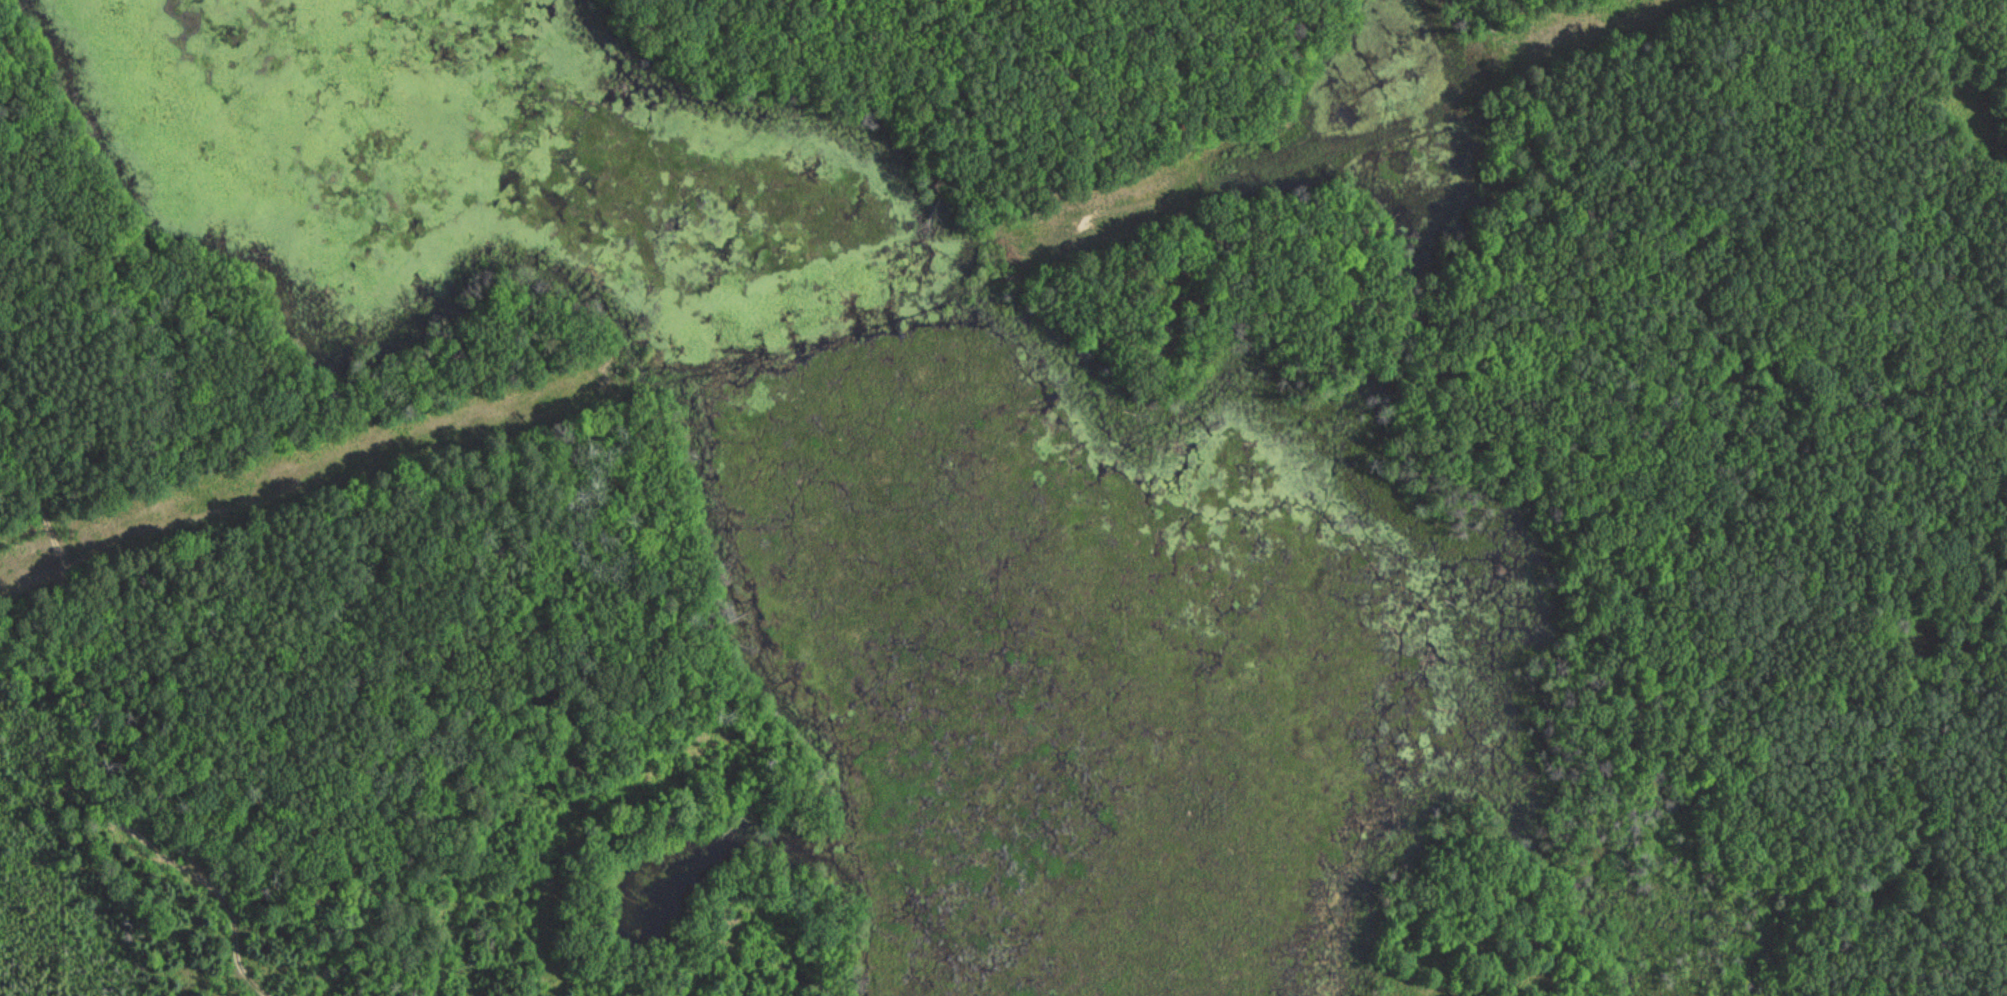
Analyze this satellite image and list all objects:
road: (106, 748)

